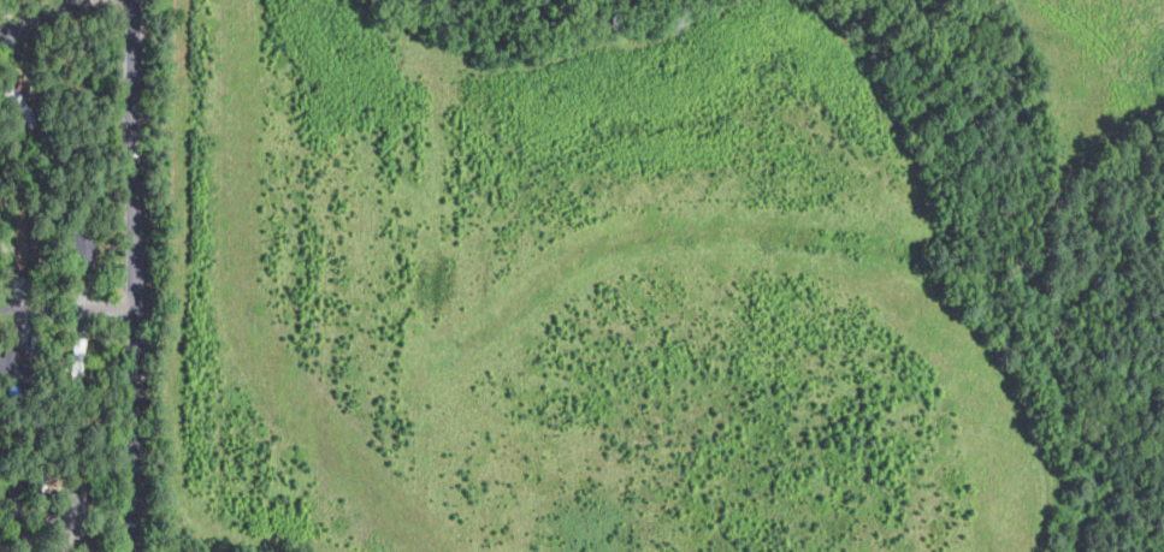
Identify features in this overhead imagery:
road: (36, 14)
road: (132, 275)
road: (66, 307)
building: (11, 369)

